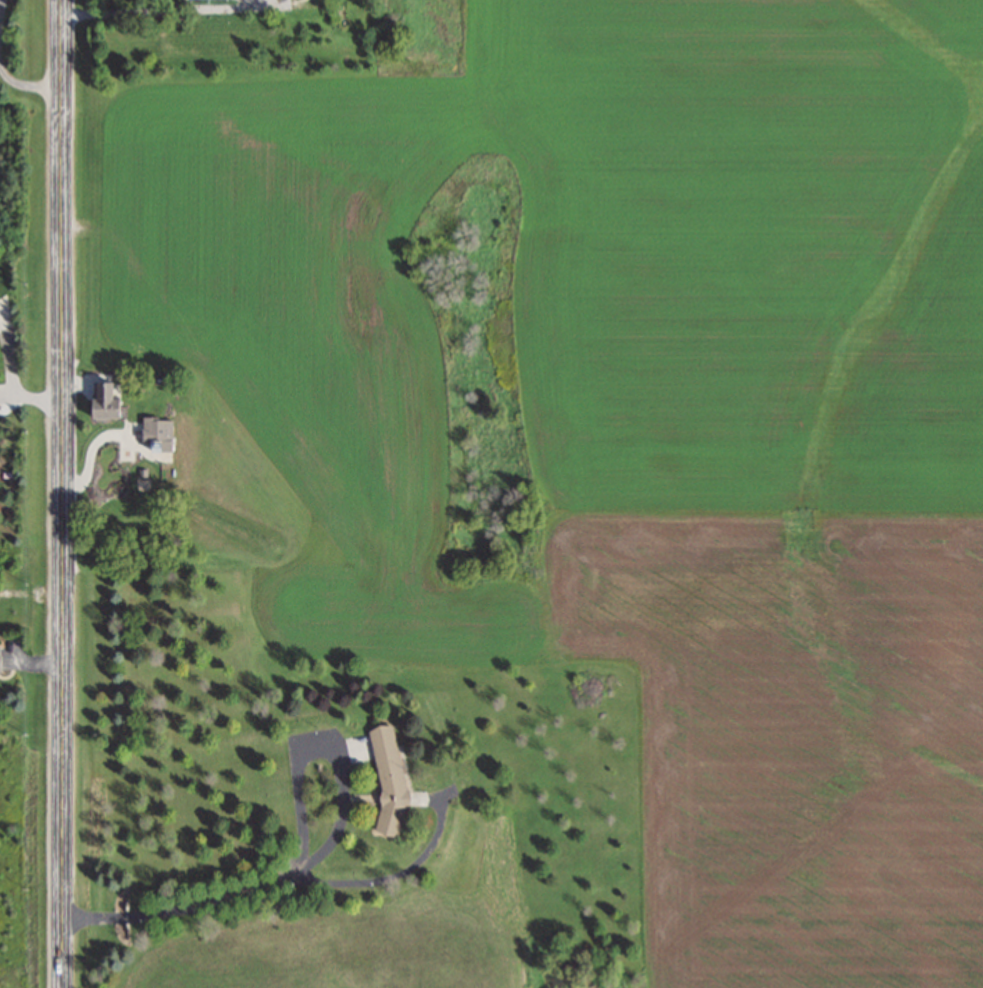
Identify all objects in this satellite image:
building: (102, 402)
building: (156, 434)
road: (61, 493)
building: (386, 779)

